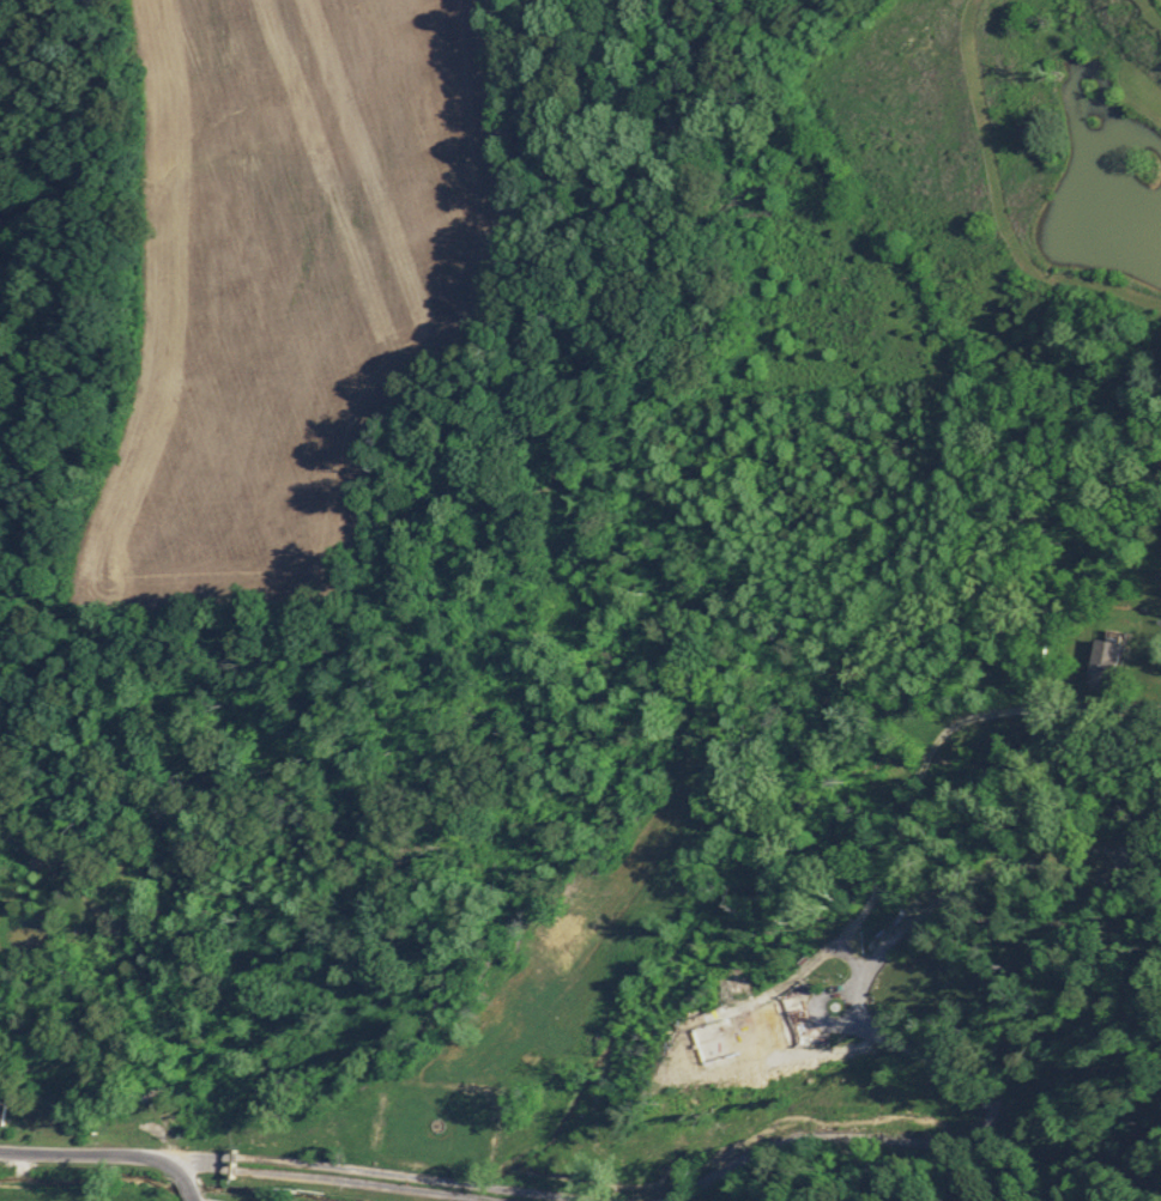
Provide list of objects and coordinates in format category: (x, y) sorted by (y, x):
building: (1102, 657)
road: (158, 877)
building: (725, 1036)
building: (0, 1110)
building: (116, 1112)
road: (109, 1158)
road: (546, 1163)

